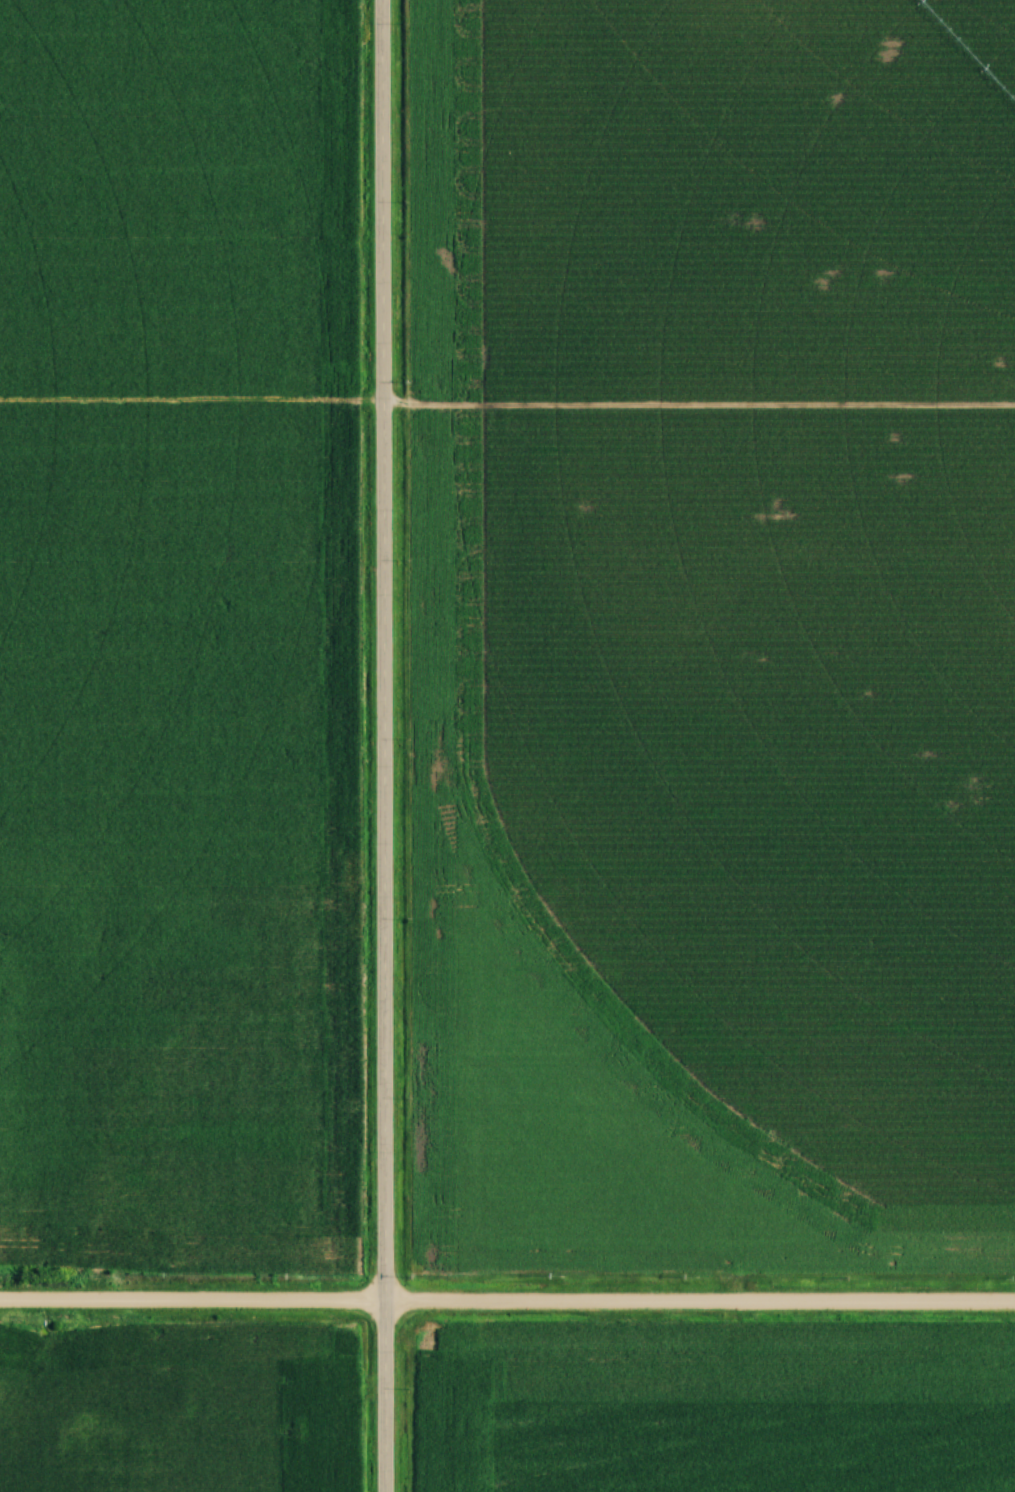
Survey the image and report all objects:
crop: (175, 629)
crop: (718, 632)
road: (389, 746)
road: (507, 1300)

